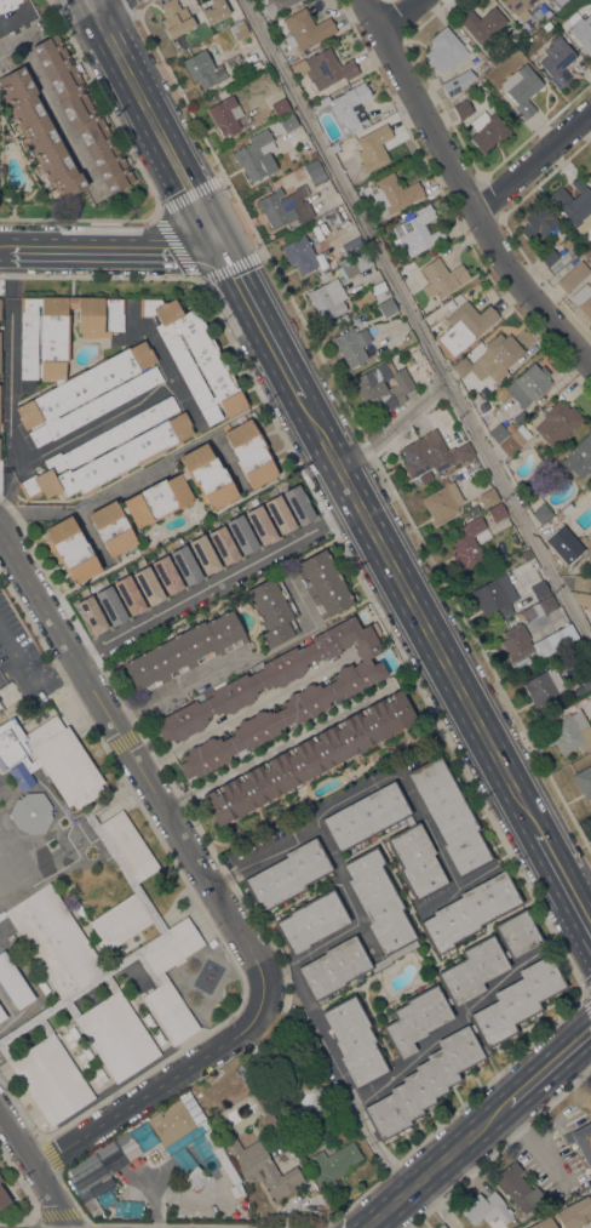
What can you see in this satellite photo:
building: (8, 5)
building: (276, 5)
road: (92, 7)
road: (105, 7)
building: (517, 7)
building: (214, 11)
road: (16, 13)
road: (395, 16)
building: (174, 18)
building: (482, 23)
building: (546, 25)
building: (239, 29)
building: (305, 29)
building: (583, 33)
building: (443, 50)
building: (557, 61)
building: (235, 64)
building: (327, 68)
building: (203, 69)
building: (457, 82)
building: (478, 86)
building: (522, 88)
building: (348, 105)
building: (281, 107)
road: (50, 108)
building: (463, 109)
building: (81, 113)
building: (225, 115)
building: (283, 124)
building: (488, 130)
road: (159, 131)
building: (40, 133)
building: (372, 148)
building: (256, 155)
building: (310, 156)
road: (532, 159)
building: (315, 172)
building: (590, 177)
road: (463, 192)
building: (394, 193)
building: (575, 205)
building: (283, 206)
building: (332, 218)
building: (538, 223)
building: (418, 230)
road: (174, 246)
road: (6, 249)
road: (116, 249)
traffic signals: (222, 249)
building: (348, 250)
building: (299, 253)
building: (587, 253)
building: (547, 256)
building: (355, 265)
building: (323, 275)
building: (573, 275)
building: (442, 278)
building: (379, 292)
building: (457, 298)
building: (583, 298)
building: (328, 299)
building: (363, 299)
building: (451, 304)
building: (388, 308)
building: (339, 319)
road: (262, 324)
road: (414, 324)
building: (465, 326)
building: (351, 344)
building: (195, 356)
building: (492, 359)
building: (105, 373)
road: (10, 376)
building: (533, 381)
building: (383, 389)
building: (557, 423)
building: (225, 425)
road: (395, 428)
building: (500, 432)
building: (513, 440)
building: (110, 452)
building: (251, 453)
building: (431, 453)
building: (579, 457)
road: (98, 497)
building: (489, 497)
building: (162, 501)
building: (442, 502)
building: (297, 504)
building: (497, 512)
building: (277, 514)
building: (541, 514)
building: (265, 525)
building: (555, 526)
building: (240, 535)
building: (467, 543)
building: (222, 544)
road: (7, 546)
building: (71, 550)
building: (203, 554)
building: (120, 573)
road: (231, 575)
building: (148, 581)
building: (581, 582)
building: (323, 584)
building: (539, 589)
building: (494, 594)
building: (583, 599)
building: (547, 609)
building: (274, 611)
building: (91, 616)
road: (420, 616)
building: (550, 642)
building: (184, 651)
road: (27, 679)
building: (585, 684)
building: (543, 686)
road: (177, 689)
building: (311, 697)
building: (586, 698)
road: (241, 715)
building: (572, 732)
road: (120, 742)
road: (277, 747)
building: (309, 758)
road: (384, 772)
building: (21, 776)
road: (144, 778)
building: (584, 781)
building: (31, 812)
building: (449, 815)
building: (365, 817)
building: (415, 861)
building: (287, 875)
road: (219, 879)
road: (566, 880)
building: (470, 912)
road: (354, 914)
building: (126, 919)
building: (310, 920)
road: (207, 923)
building: (389, 924)
road: (272, 971)
building: (459, 982)
building: (12, 983)
building: (1, 1015)
road: (444, 1027)
building: (355, 1041)
building: (464, 1047)
road: (332, 1055)
road: (549, 1063)
road: (153, 1090)
building: (309, 1098)
road: (1, 1115)
building: (177, 1124)
building: (143, 1136)
building: (581, 1141)
road: (19, 1143)
building: (125, 1156)
road: (437, 1164)
building: (332, 1165)
road: (391, 1165)
building: (260, 1166)
building: (86, 1173)
building: (194, 1177)
road: (41, 1178)
building: (0, 1180)
building: (516, 1187)
building: (590, 1194)
building: (2, 1198)
road: (56, 1207)
building: (484, 1209)
building: (573, 1212)
building: (543, 1222)
building: (441, 1226)

